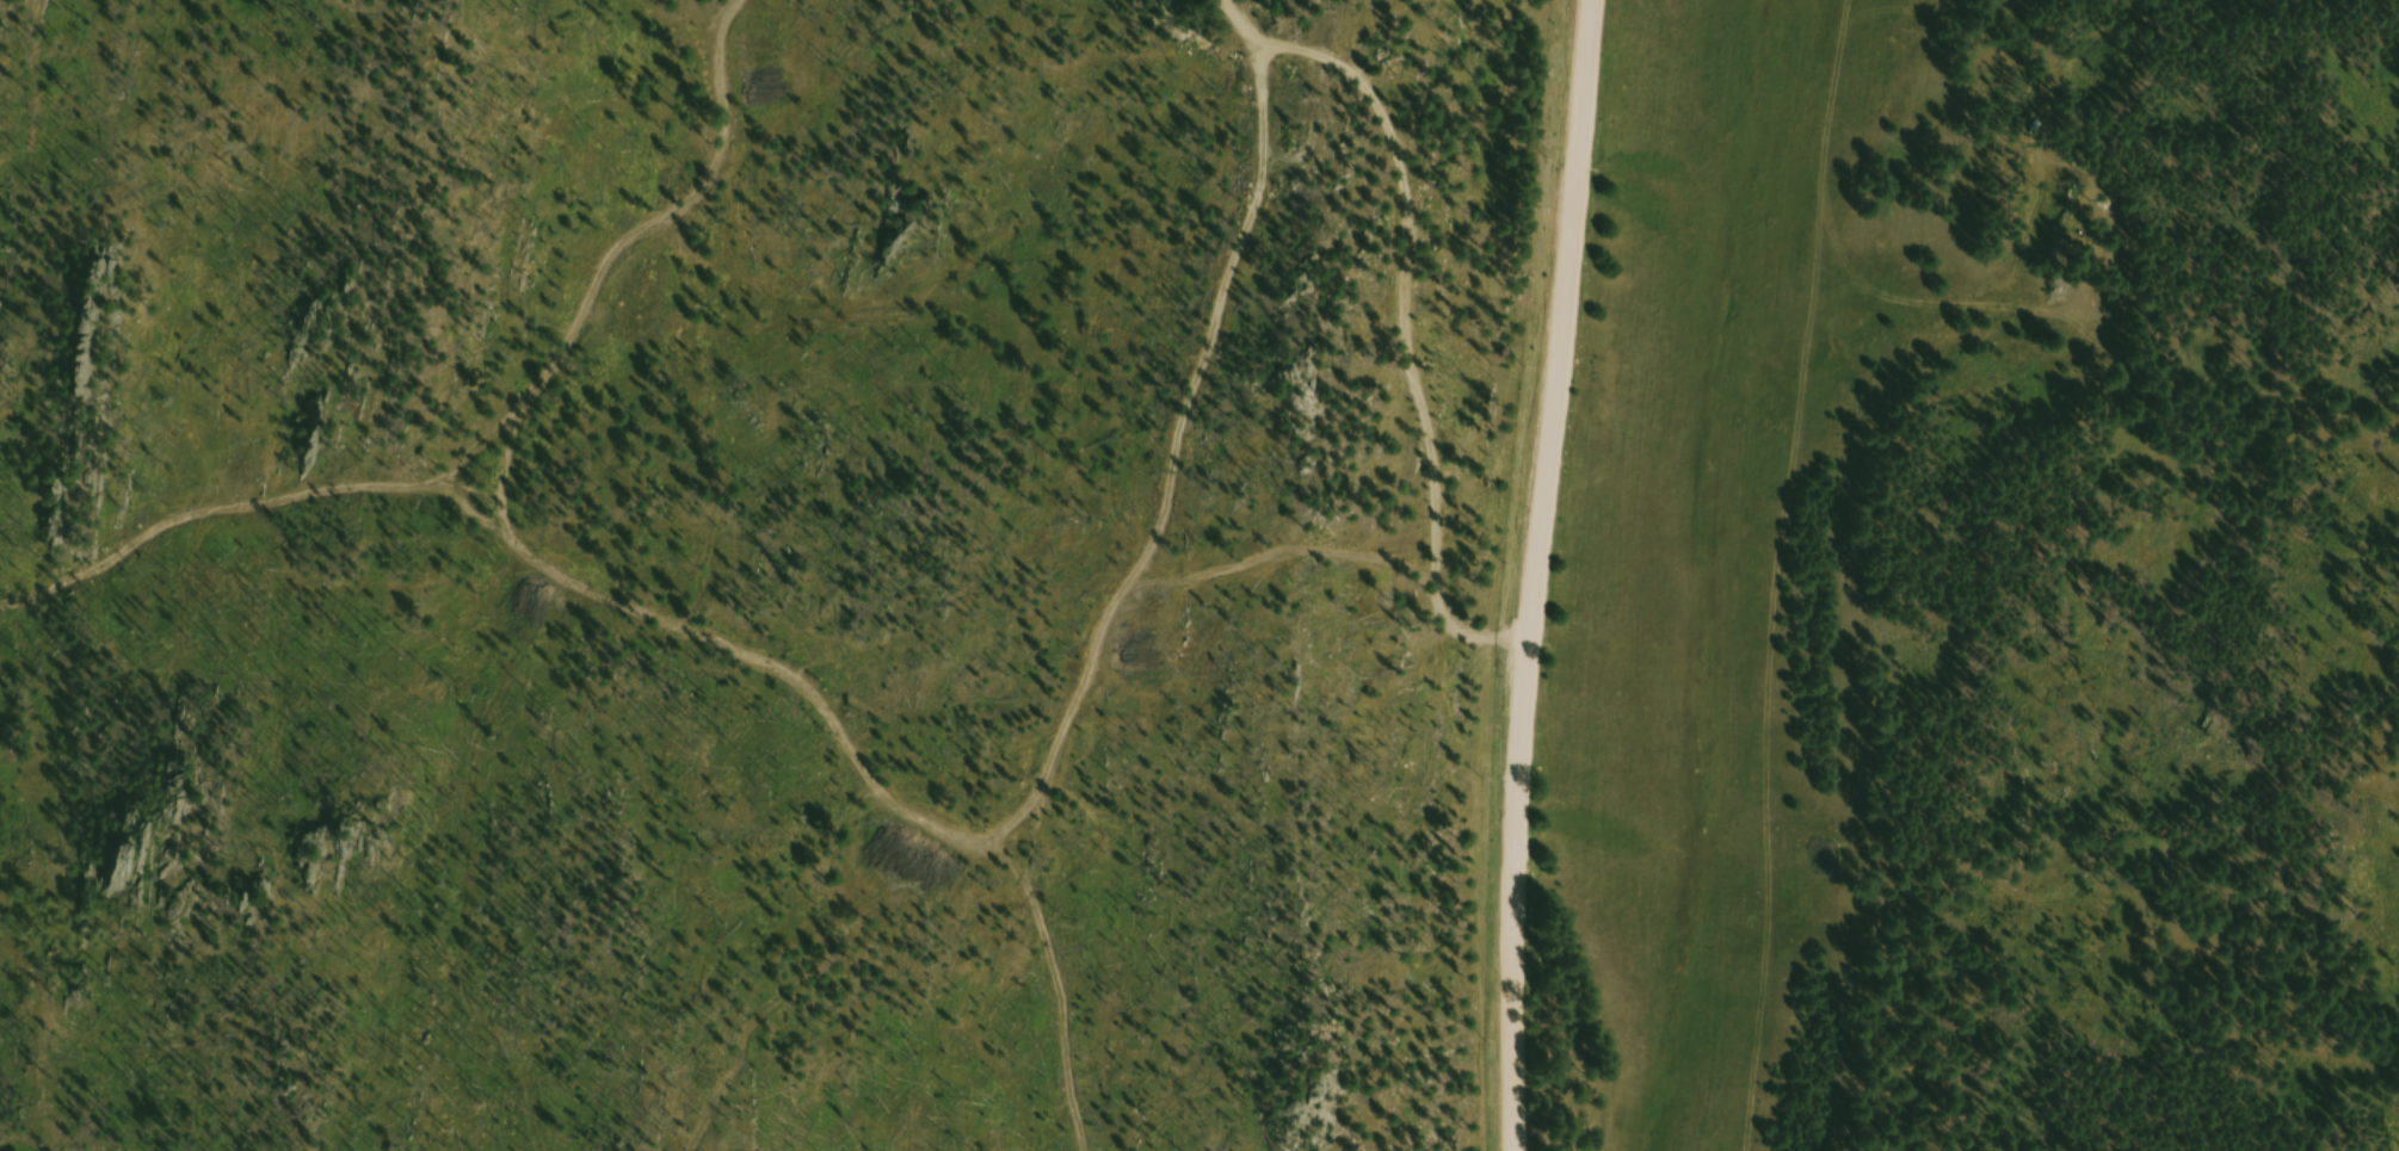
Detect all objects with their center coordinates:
road: (1414, 302)
road: (1287, 546)
road: (1528, 574)
road: (649, 607)
road: (1032, 983)

